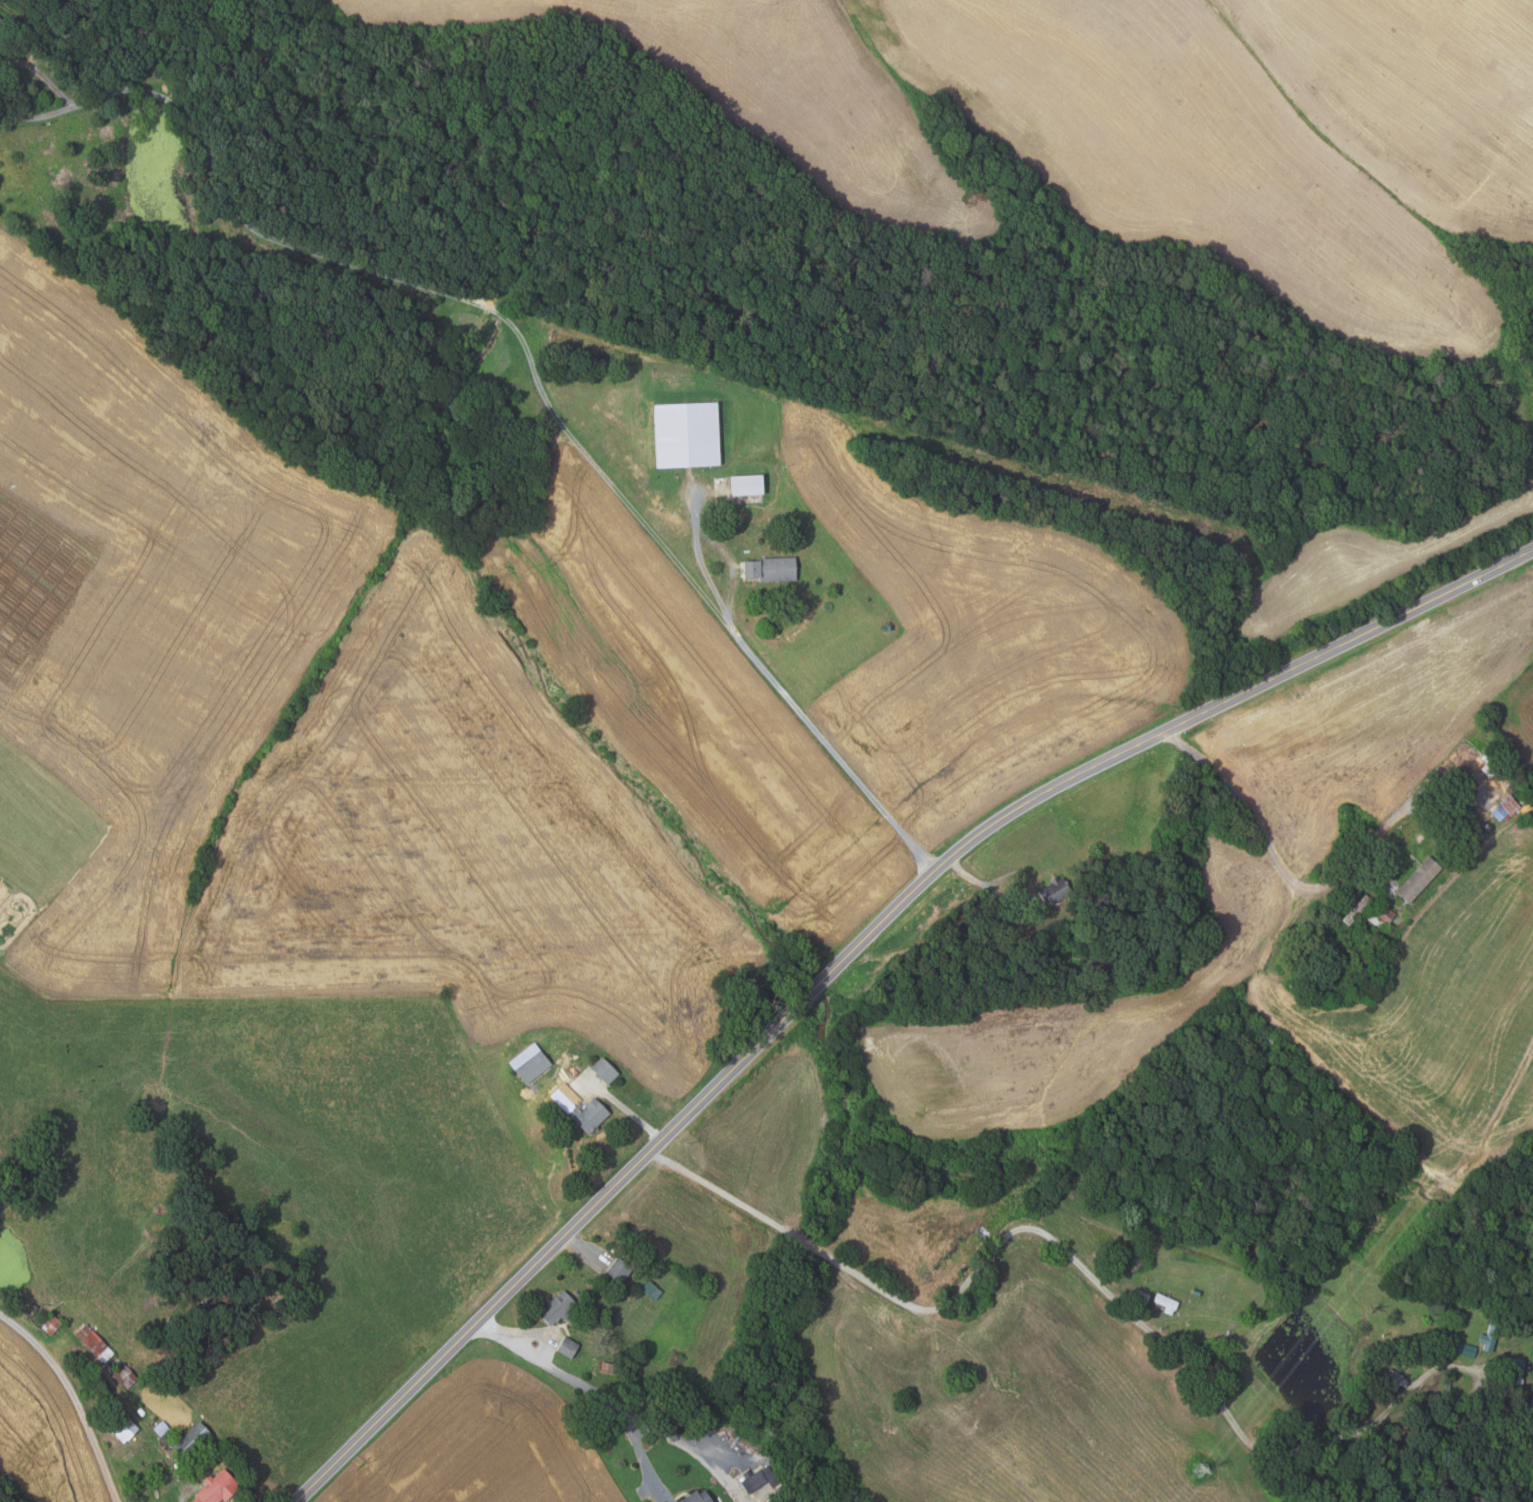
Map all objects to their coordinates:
building: (1, 19)
crop: (1138, 125)
road: (530, 356)
building: (686, 435)
building: (747, 485)
road: (701, 560)
crop: (1364, 561)
building: (771, 569)
building: (806, 606)
crop: (980, 639)
crop: (1380, 715)
crop: (383, 726)
building: (1510, 804)
building: (1421, 837)
road: (1280, 864)
building: (1419, 879)
road: (988, 887)
building: (1056, 888)
building: (1390, 888)
building: (1357, 909)
building: (1379, 914)
road: (855, 946)
crop: (1392, 1007)
building: (1255, 1029)
building: (529, 1062)
building: (605, 1070)
road: (628, 1111)
building: (589, 1114)
road: (582, 1246)
road: (1065, 1252)
building: (1135, 1261)
building: (618, 1272)
building: (651, 1289)
building: (1196, 1292)
building: (1142, 1298)
building: (1166, 1301)
building: (200, 1306)
building: (557, 1308)
building: (218, 1310)
building: (50, 1324)
building: (1492, 1331)
building: (94, 1342)
building: (568, 1347)
building: (1467, 1350)
building: (1516, 1365)
building: (610, 1368)
building: (125, 1376)
building: (1393, 1380)
road: (599, 1392)
road: (74, 1397)
building: (1491, 1397)
building: (1530, 1405)
building: (140, 1411)
building: (122, 1425)
building: (161, 1428)
building: (191, 1440)
road: (640, 1448)
power tower: (1200, 1470)
building: (759, 1479)
building: (216, 1487)
building: (697, 1497)

